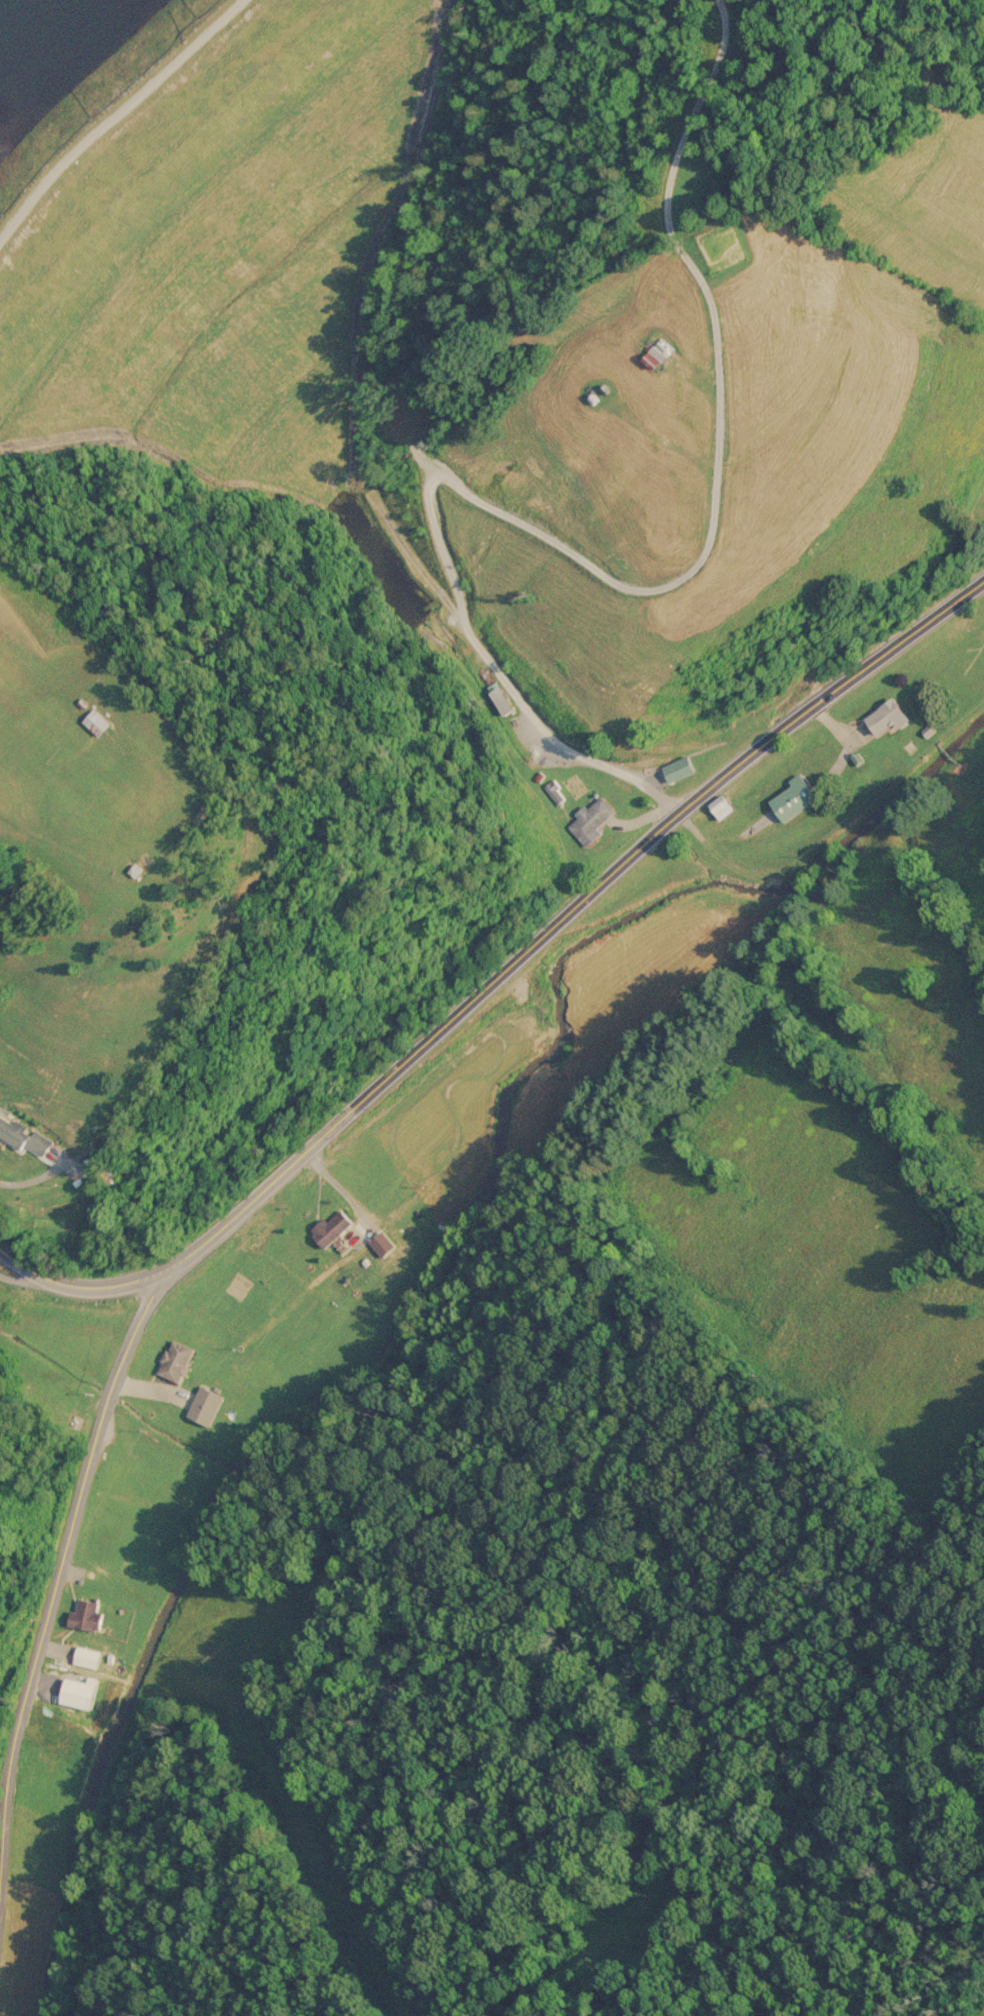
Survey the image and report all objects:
road: (132, 138)
building: (663, 349)
road: (361, 468)
building: (892, 716)
building: (99, 722)
building: (681, 767)
building: (795, 796)
building: (726, 805)
building: (594, 819)
road: (498, 973)
building: (24, 1134)
road: (33, 1179)
road: (15, 1272)
building: (177, 1358)
building: (209, 1403)
road: (54, 1593)
building: (90, 1614)
building: (82, 1654)

